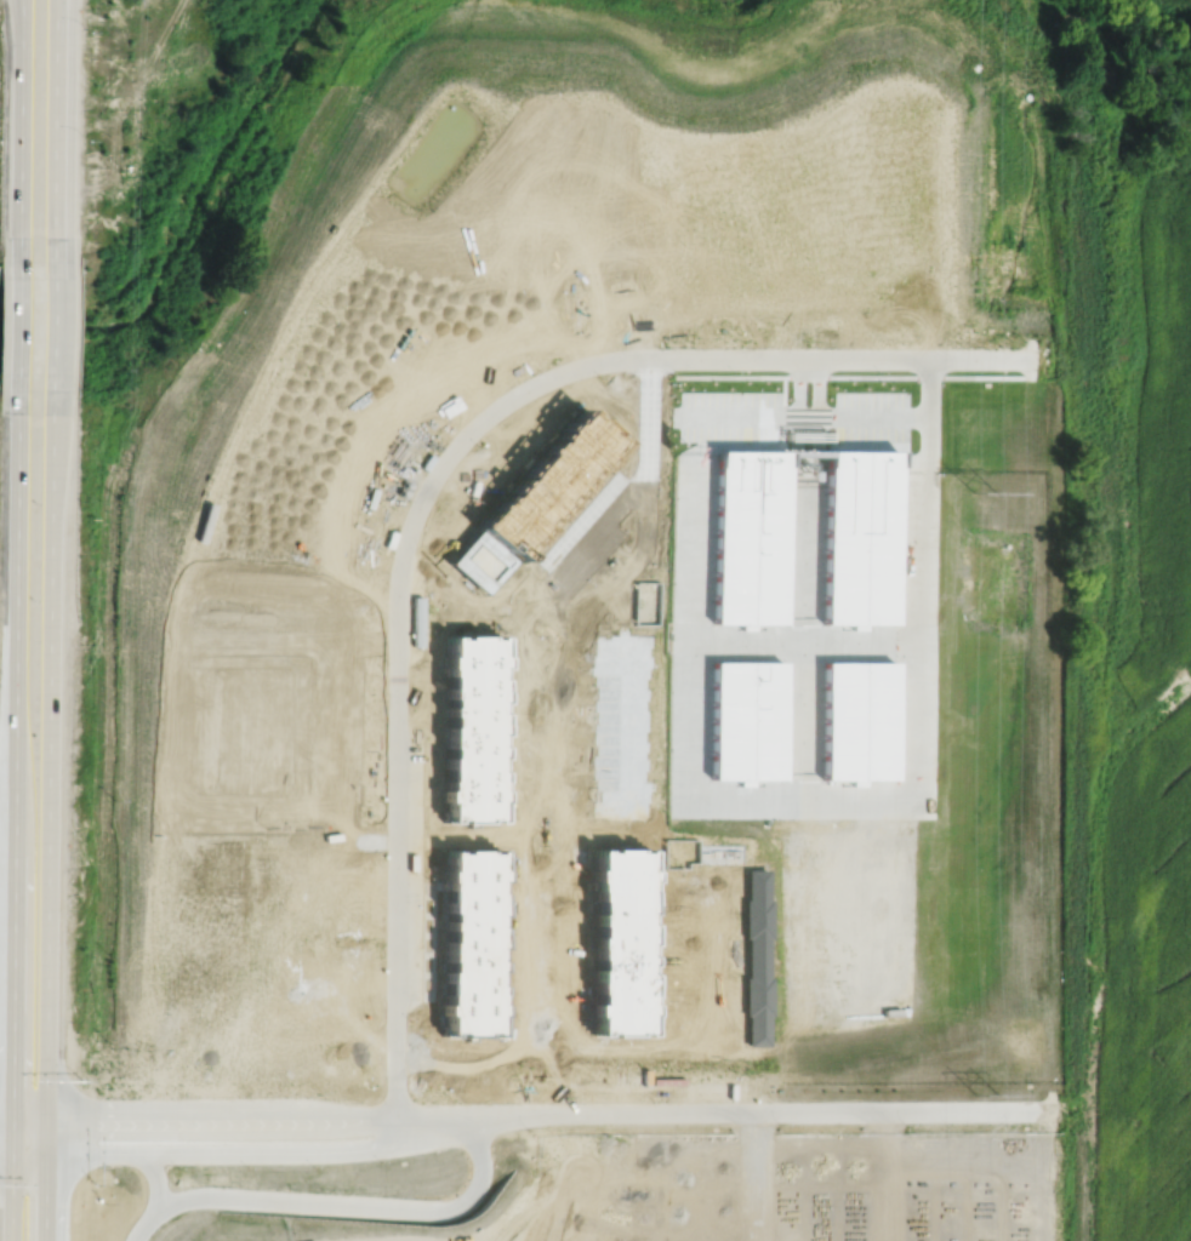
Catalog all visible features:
street lamp: (87, 30)
road: (21, 130)
road: (55, 130)
street lamp: (86, 139)
road: (18, 325)
road: (53, 325)
street lamp: (808, 343)
street lamp: (663, 345)
road: (776, 358)
street lamp: (733, 370)
street lamp: (526, 371)
street lamp: (882, 372)
street lamp: (598, 374)
street lamp: (475, 445)
power tower: (982, 494)
street lamp: (408, 499)
road: (16, 608)
crop: (1129, 617)
street lamp: (387, 662)
road: (401, 730)
street lamp: (429, 736)
road: (49, 754)
building: (589, 789)
street lamp: (384, 800)
street lamp: (429, 876)
street lamp: (384, 944)
road: (12, 973)
street lamp: (414, 1018)
traffic signals: (12, 1080)
street lamp: (82, 1080)
street lamp: (252, 1091)
street lamp: (183, 1092)
street lamp: (323, 1092)
street lamp: (655, 1099)
power tower: (986, 1099)
street lamp: (456, 1100)
road: (771, 1111)
road: (439, 1116)
road: (6, 1117)
road: (351, 1117)
road: (28, 1119)
traffic signals: (91, 1119)
road: (172, 1119)
street lamp: (908, 1126)
street lamp: (780, 1127)
road: (440, 1128)
street lamp: (532, 1128)
road: (403, 1130)
road: (11, 1136)
road: (45, 1136)
road: (330, 1150)
road: (150, 1151)
road: (5, 1153)
road: (28, 1154)
street lamp: (384, 1161)
street lamp: (319, 1163)
street lamp: (182, 1167)
street lamp: (252, 1167)
road: (156, 1178)
street lamp: (97, 1183)
traffic signals: (45, 1194)
road: (10, 1197)
road: (44, 1197)
road: (361, 1203)
road: (149, 1223)

